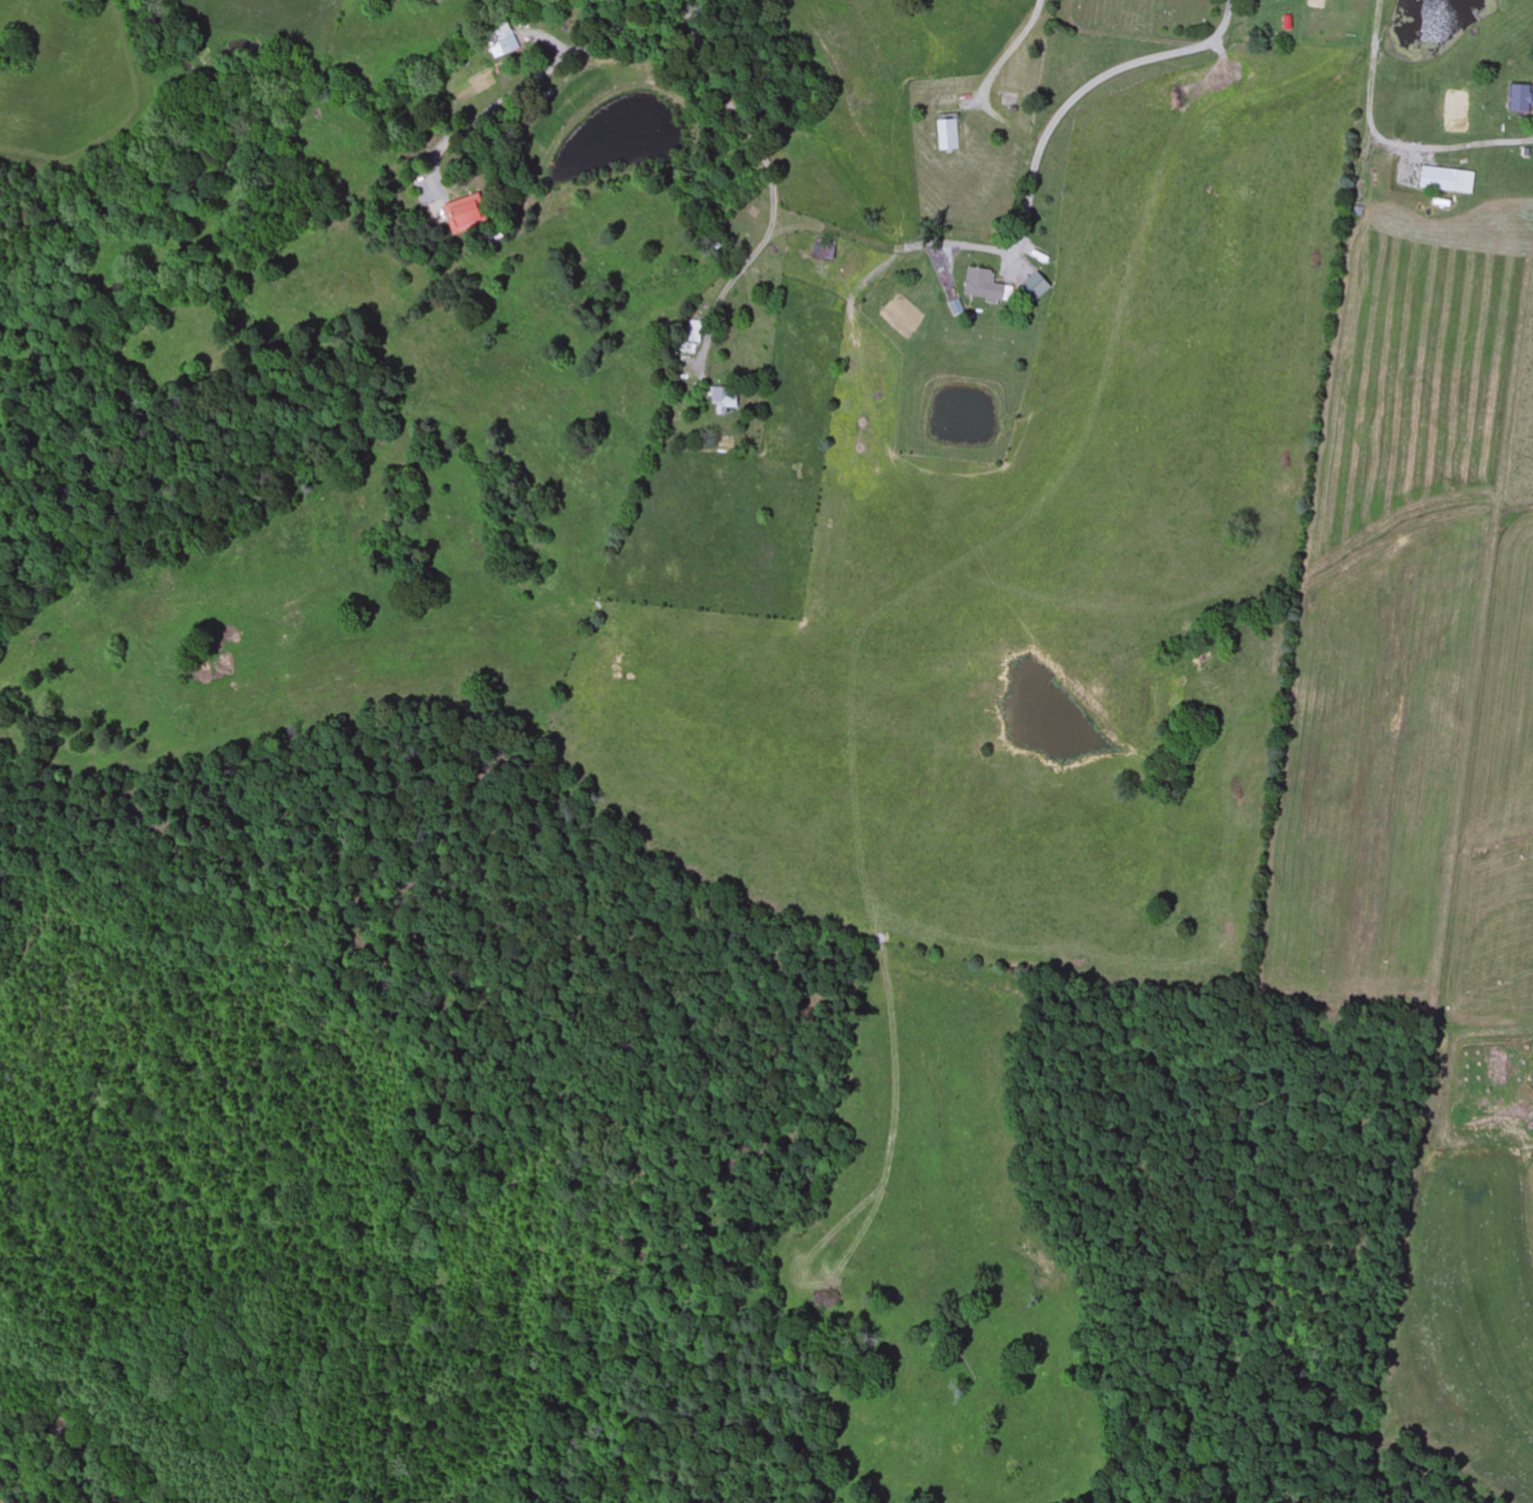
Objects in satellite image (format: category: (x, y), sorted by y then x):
park: (1142, 18)
building: (501, 43)
road: (535, 80)
road: (1083, 94)
building: (1522, 94)
building: (947, 136)
building: (1447, 176)
building: (465, 215)
building: (986, 286)
building: (1037, 286)
building: (696, 331)
building: (723, 398)

